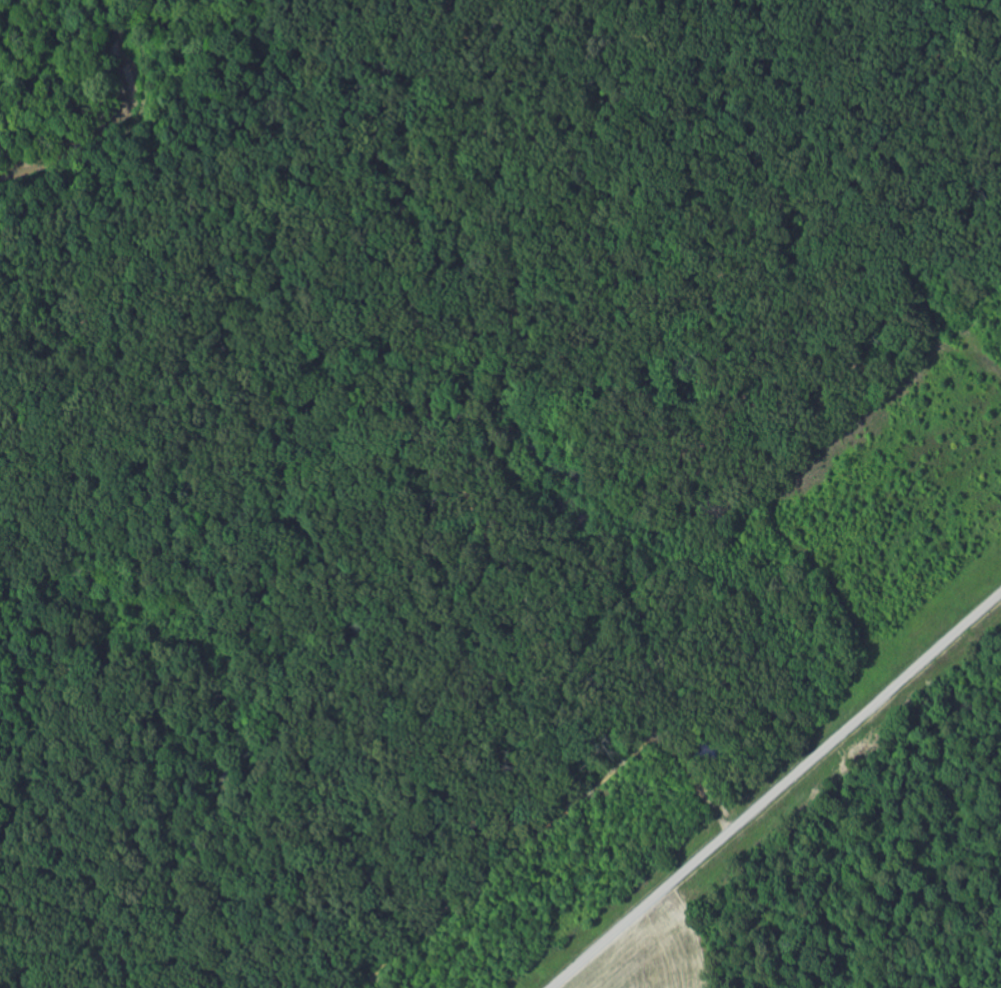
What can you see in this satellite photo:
road: (776, 791)

